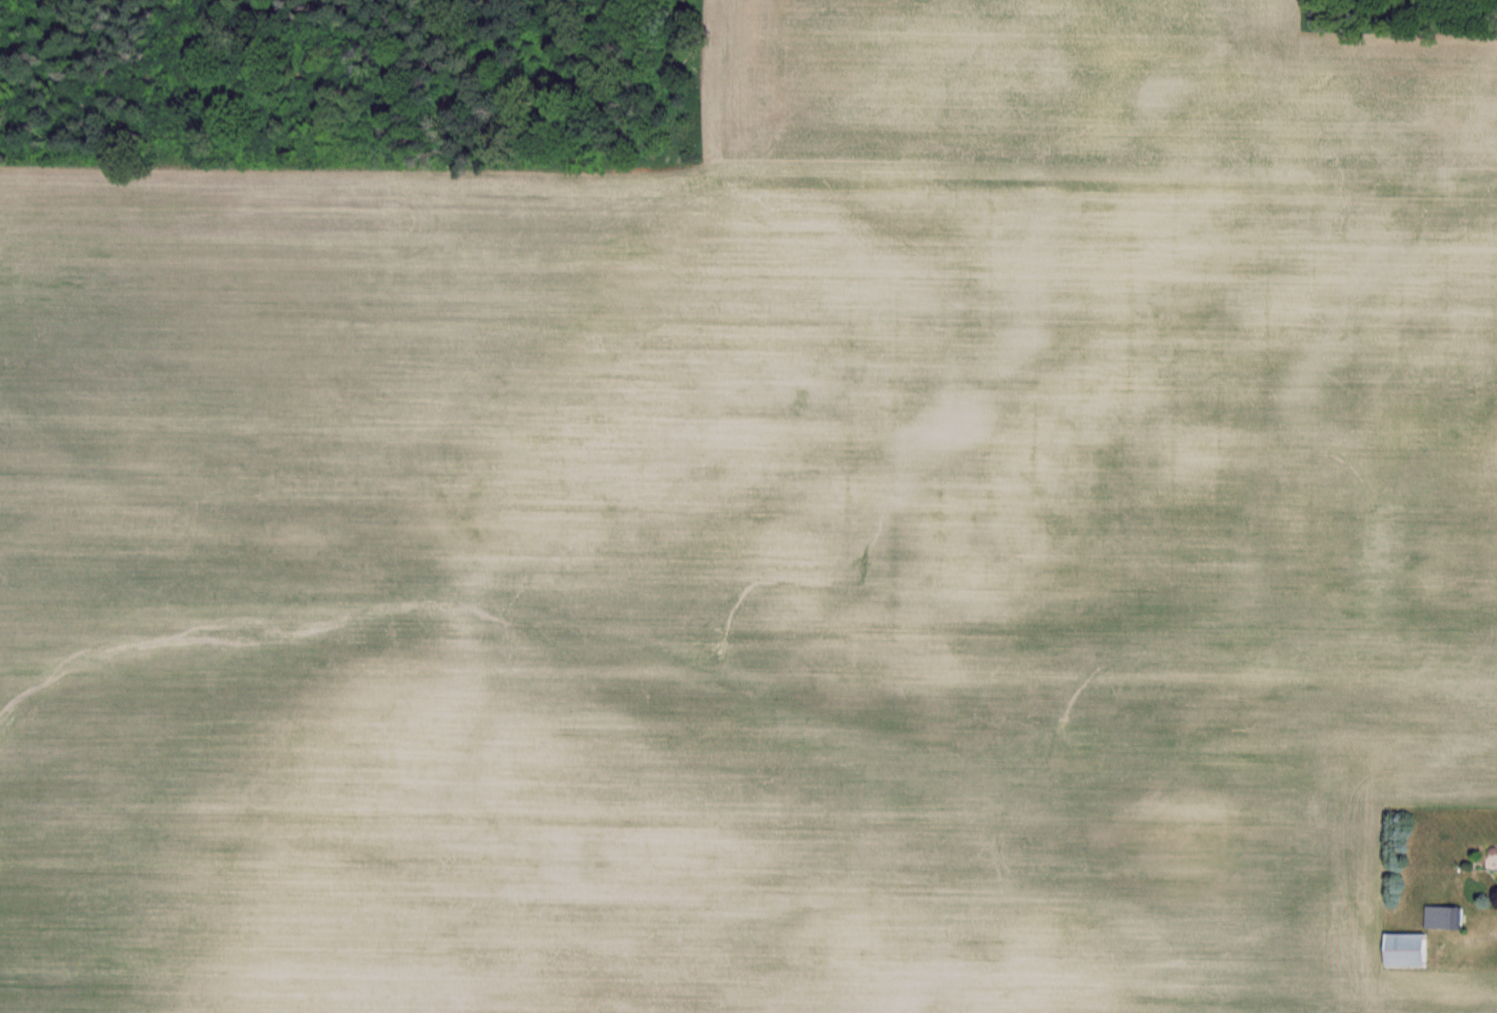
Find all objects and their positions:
building: (1446, 917)
building: (1411, 950)

